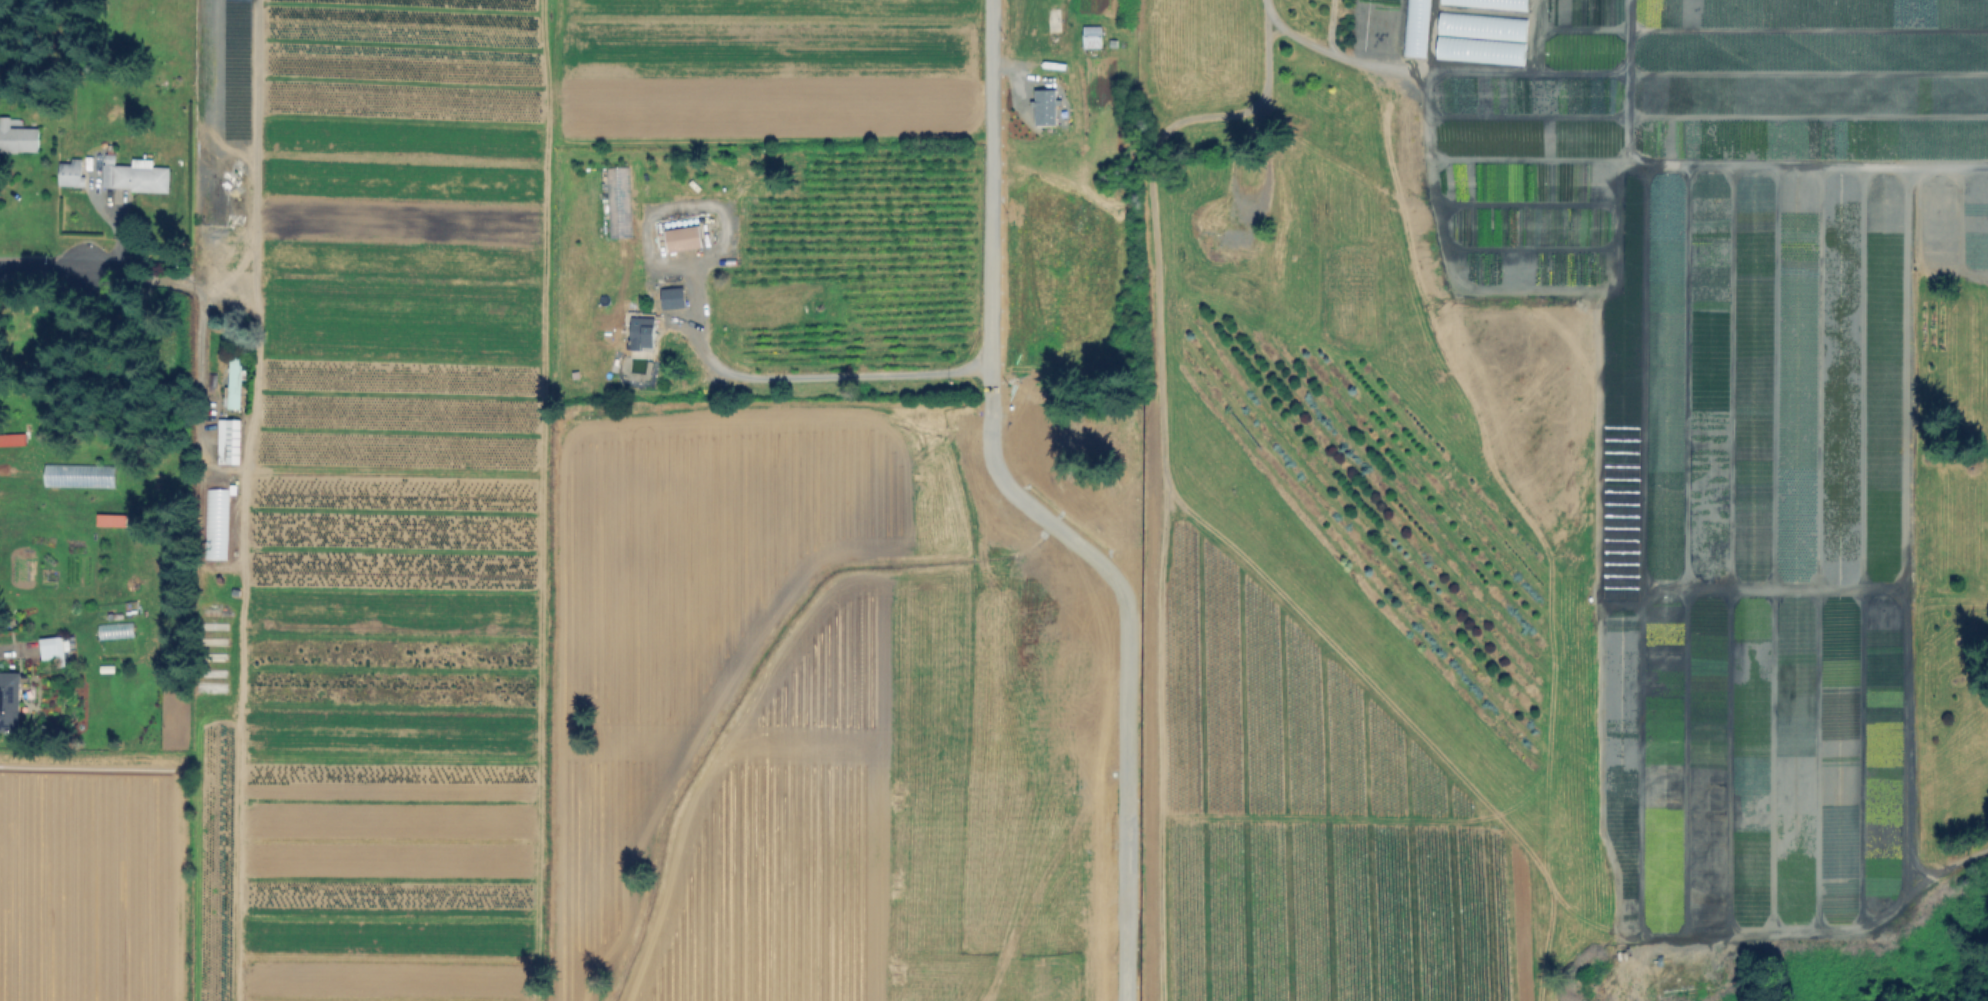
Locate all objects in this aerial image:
building: (1496, 3)
building: (1483, 25)
building: (1419, 27)
building: (1090, 36)
road: (1315, 45)
building: (1482, 51)
road: (1260, 60)
road: (1423, 72)
building: (1044, 106)
building: (18, 137)
building: (72, 175)
building: (137, 176)
building: (623, 197)
road: (1245, 199)
building: (1236, 237)
building: (685, 239)
road: (41, 266)
road: (157, 282)
building: (673, 298)
building: (643, 334)
road: (809, 375)
building: (233, 382)
building: (1111, 431)
building: (11, 438)
building: (227, 440)
building: (1039, 489)
road: (1026, 513)
building: (110, 519)
building: (214, 523)
building: (114, 630)
building: (55, 652)
building: (10, 701)

